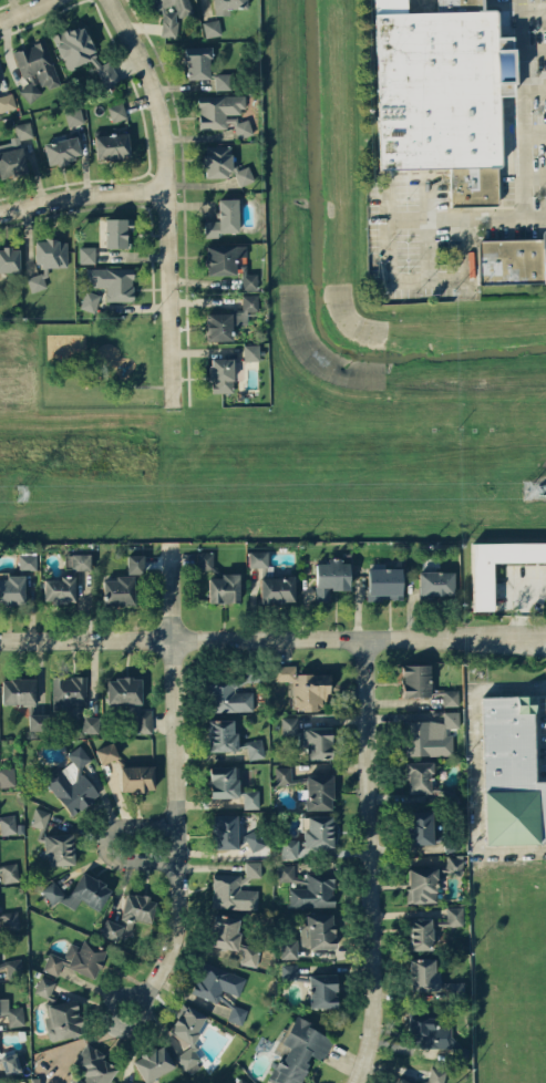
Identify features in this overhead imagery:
building: (230, 3)
road: (23, 10)
road: (533, 10)
building: (169, 14)
building: (212, 27)
road: (533, 50)
building: (83, 54)
building: (197, 62)
building: (35, 69)
building: (224, 81)
road: (534, 90)
building: (441, 92)
building: (7, 102)
road: (522, 107)
building: (218, 110)
building: (116, 111)
building: (73, 116)
building: (240, 125)
road: (534, 132)
building: (112, 145)
building: (61, 149)
building: (14, 152)
building: (223, 163)
road: (535, 173)
road: (79, 192)
road: (161, 195)
building: (224, 218)
road: (466, 218)
building: (116, 231)
building: (51, 252)
building: (86, 254)
building: (224, 258)
building: (10, 259)
building: (512, 259)
river: (317, 279)
building: (35, 281)
building: (249, 281)
building: (113, 286)
building: (90, 300)
building: (229, 319)
building: (251, 351)
building: (222, 374)
power tower: (529, 489)
power tower: (19, 493)
building: (258, 558)
building: (205, 560)
building: (27, 561)
building: (135, 564)
building: (331, 578)
building: (66, 579)
building: (385, 584)
building: (436, 584)
building: (484, 585)
building: (224, 588)
building: (12, 589)
building: (277, 589)
building: (119, 590)
road: (532, 592)
road: (272, 636)
building: (416, 680)
building: (305, 685)
building: (18, 691)
building: (233, 691)
building: (68, 692)
building: (451, 697)
building: (130, 700)
building: (37, 721)
building: (90, 723)
building: (431, 735)
building: (230, 739)
building: (309, 739)
building: (105, 752)
road: (473, 771)
building: (511, 772)
building: (282, 775)
building: (7, 776)
building: (419, 776)
building: (137, 777)
building: (224, 781)
building: (72, 782)
road: (181, 786)
building: (319, 792)
building: (251, 798)
building: (40, 817)
building: (8, 824)
building: (420, 826)
building: (224, 831)
building: (311, 837)
building: (253, 838)
building: (59, 844)
road: (105, 844)
road: (373, 859)
building: (454, 864)
building: (254, 868)
building: (9, 871)
building: (285, 873)
building: (422, 880)
building: (315, 889)
building: (80, 893)
building: (231, 893)
building: (128, 915)
building: (451, 917)
building: (9, 919)
building: (318, 930)
building: (224, 931)
building: (421, 932)
building: (288, 948)
building: (248, 955)
building: (76, 959)
building: (288, 971)
building: (424, 974)
building: (45, 987)
building: (222, 989)
building: (322, 990)
building: (457, 990)
building: (11, 1012)
building: (62, 1019)
building: (426, 1031)
building: (187, 1033)
building: (300, 1051)
building: (153, 1062)
building: (12, 1063)
building: (92, 1065)
building: (436, 1075)
building: (400, 1080)
building: (423, 1081)
building: (122, 1082)

